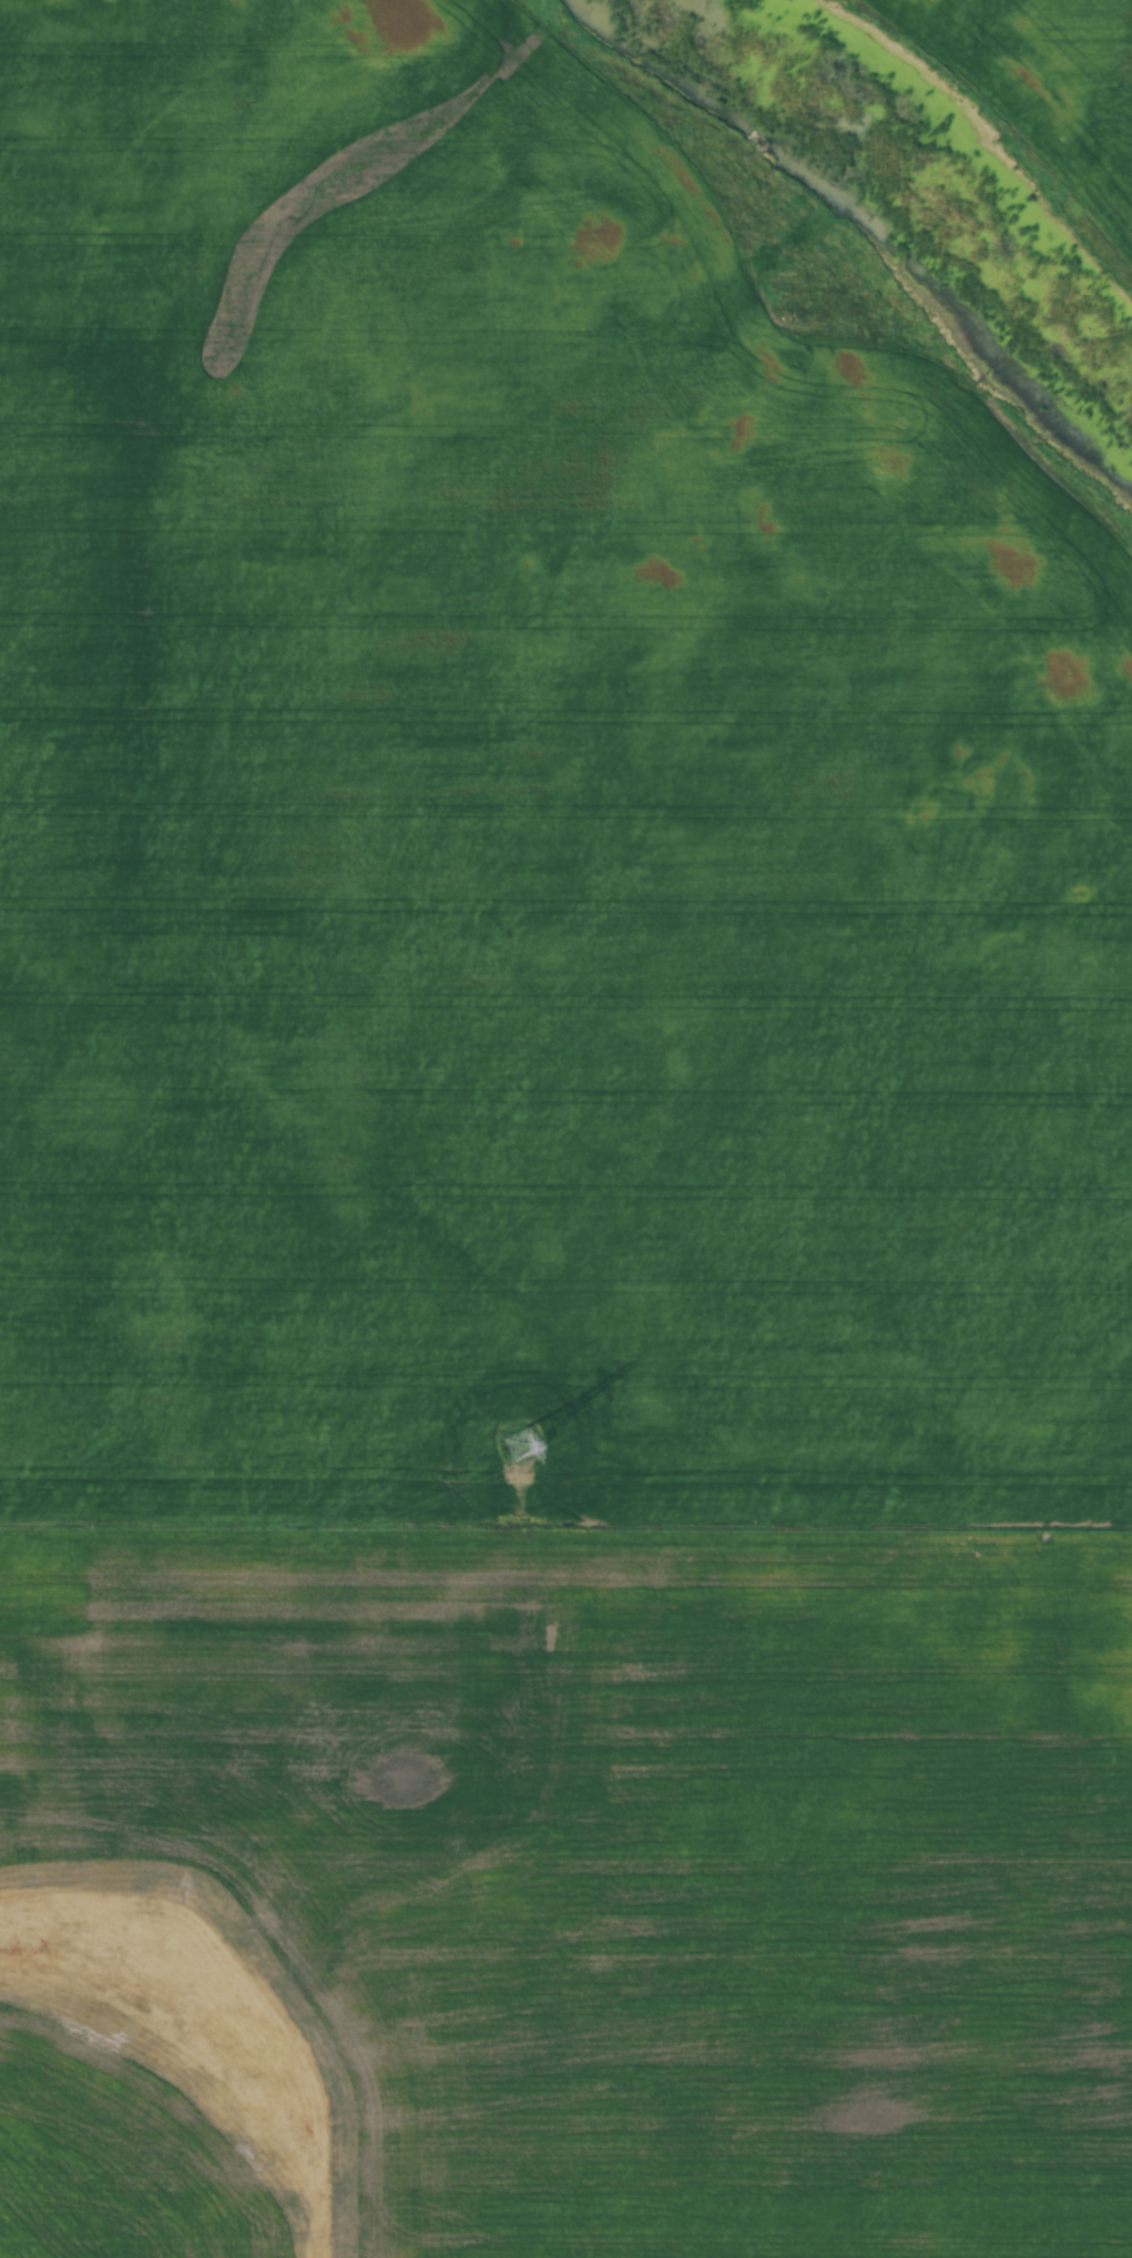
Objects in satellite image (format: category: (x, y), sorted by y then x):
power tower: (513, 1447)

